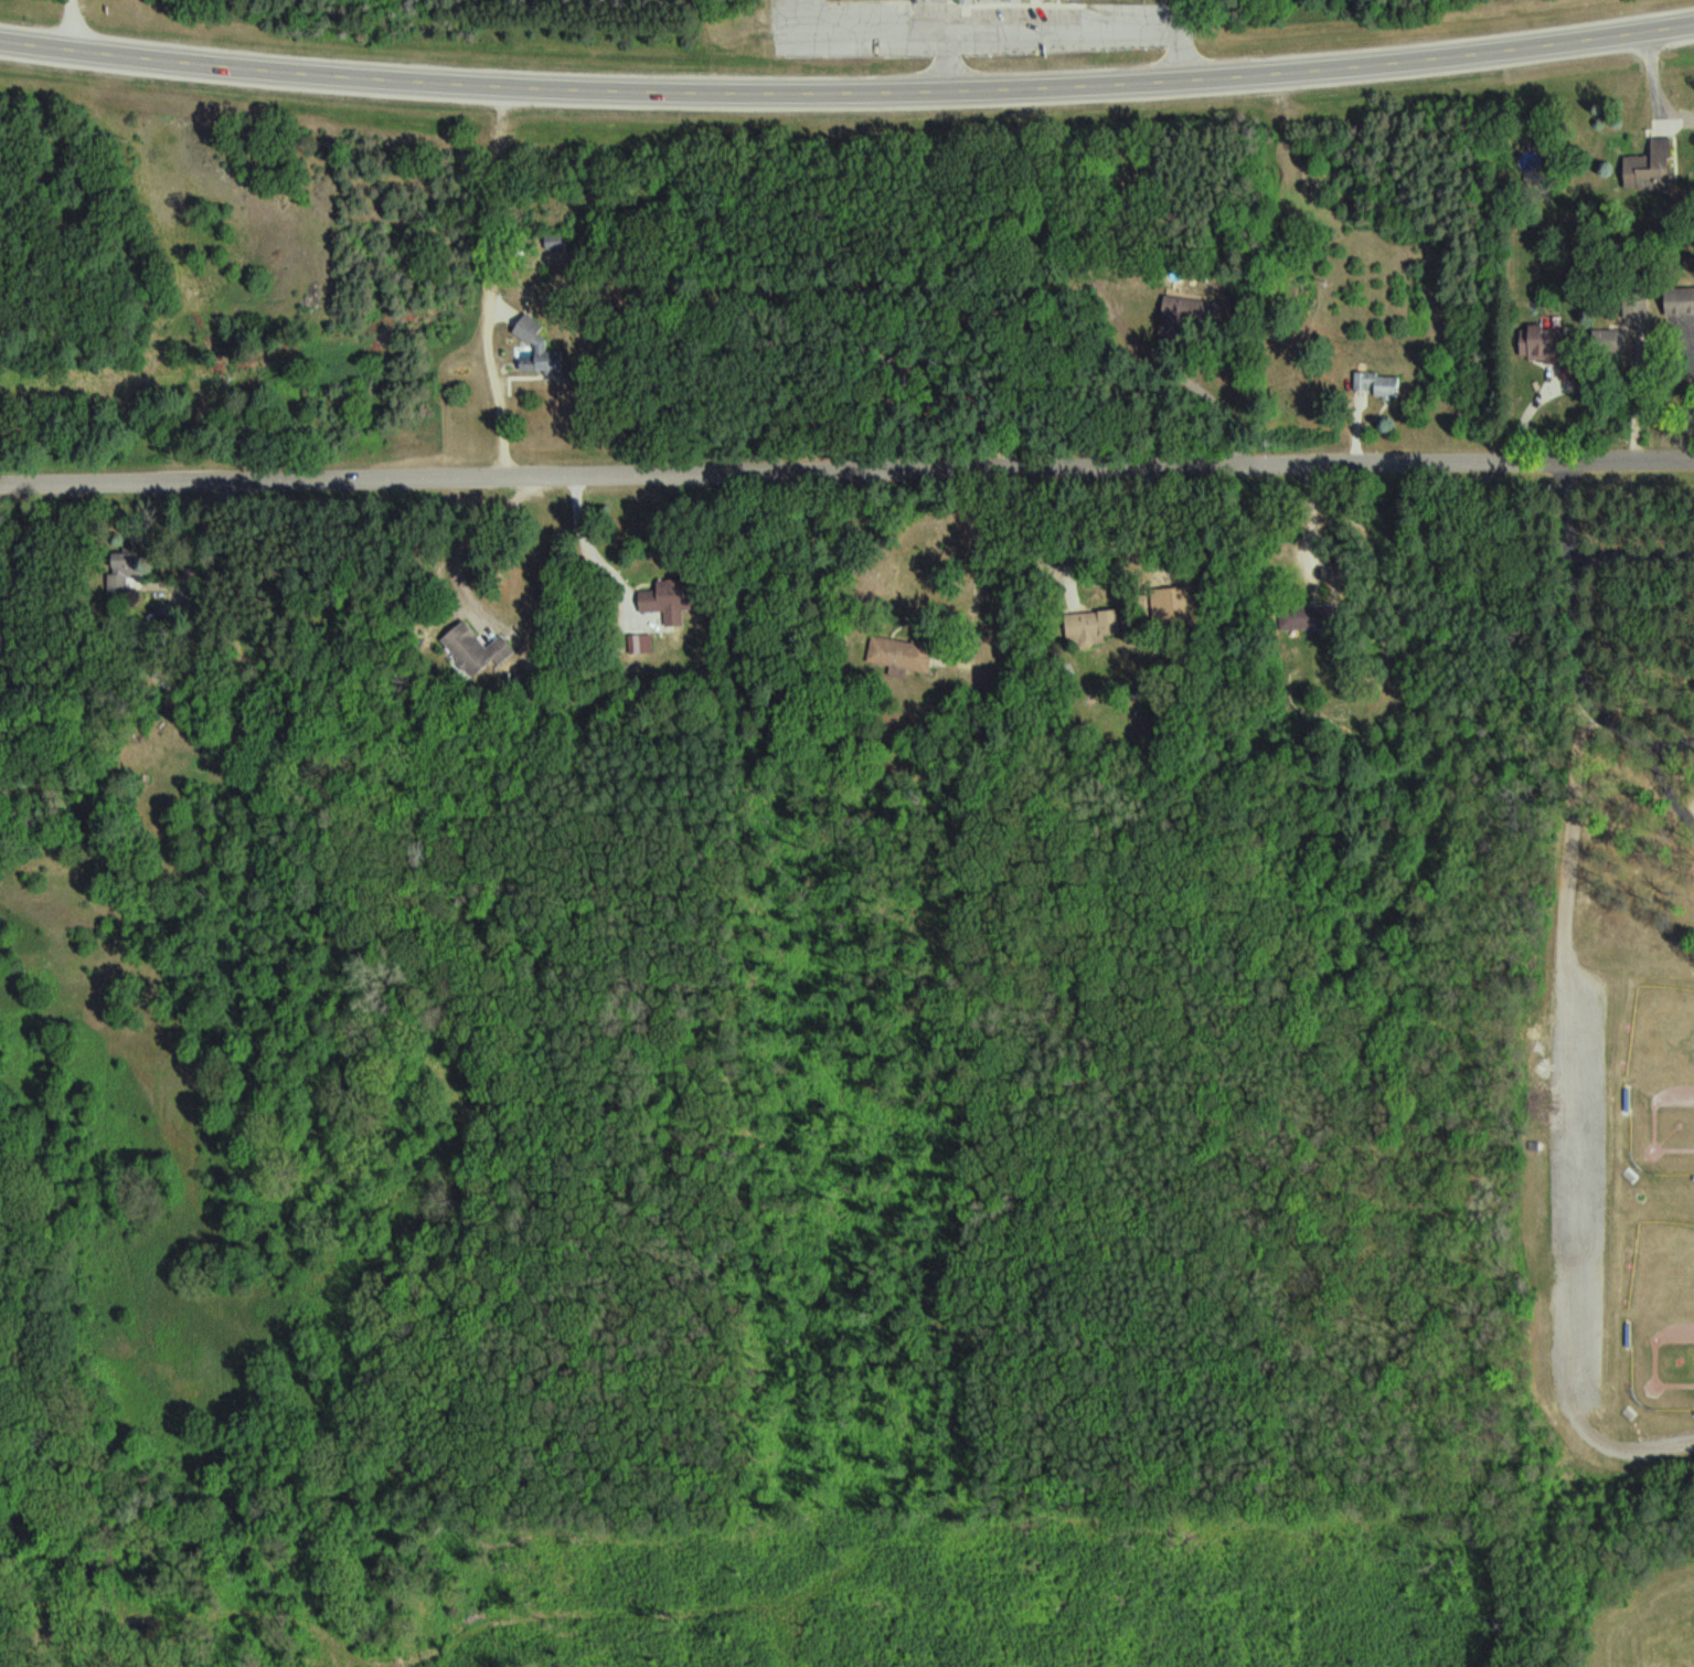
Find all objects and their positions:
road: (848, 93)
building: (1655, 168)
building: (1551, 344)
building: (1383, 383)
road: (1595, 456)
road: (748, 471)
building: (129, 570)
road: (1577, 582)
building: (659, 601)
building: (470, 648)
building: (905, 656)
road: (1670, 783)
road: (1581, 987)
park: (1663, 1076)
park: (1599, 1086)
parking lot: (1581, 1183)
park: (1664, 1316)

